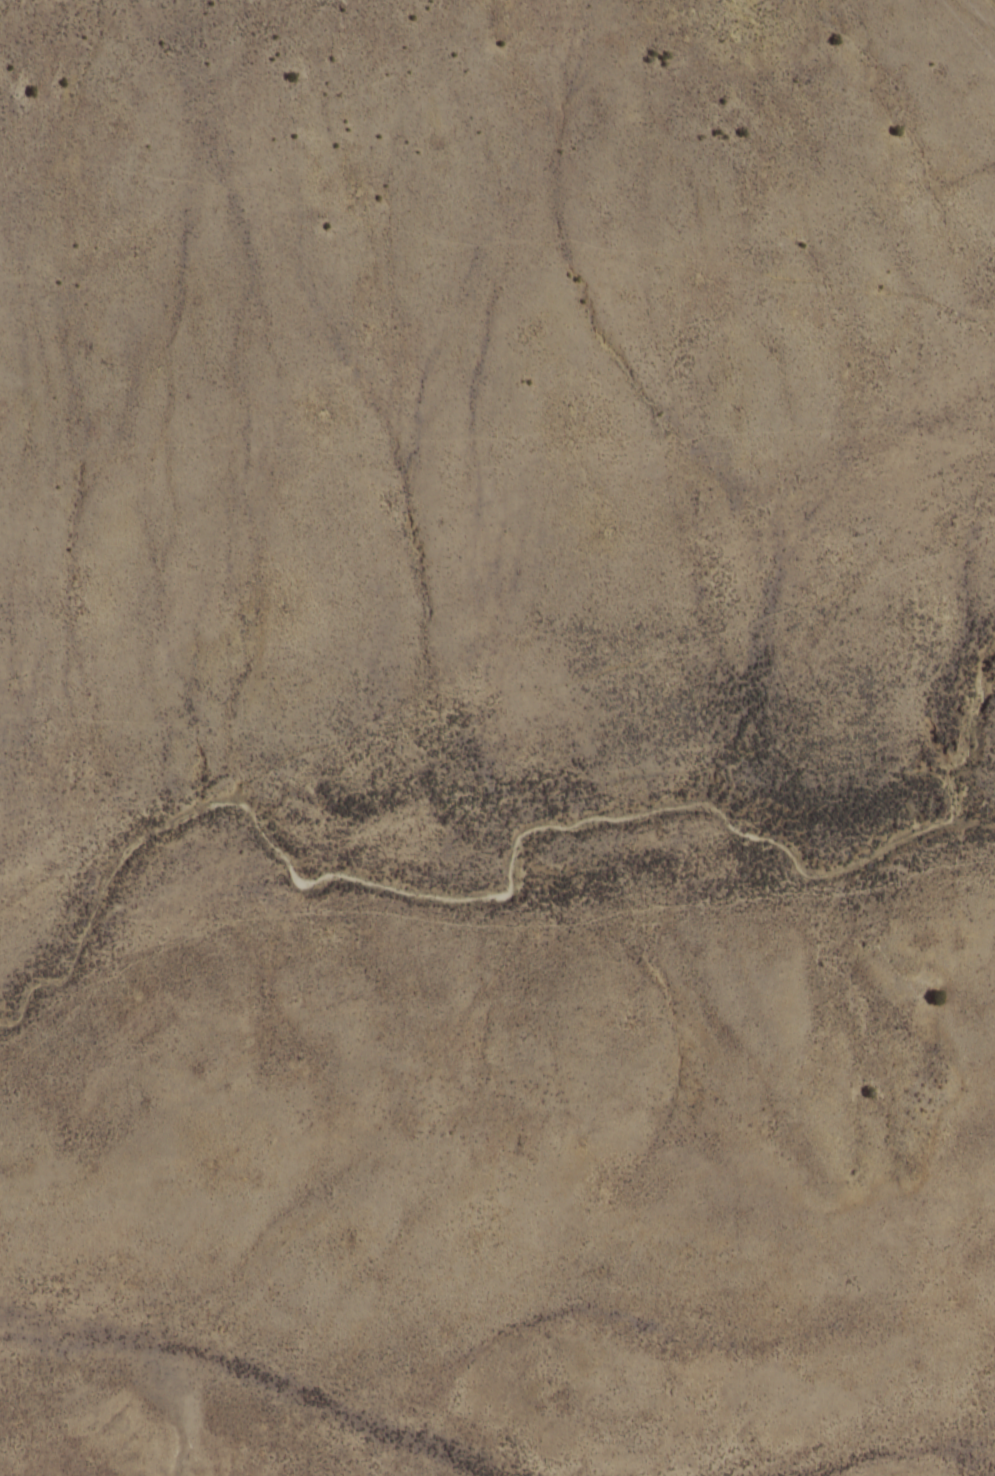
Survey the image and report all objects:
river: (450, 881)

